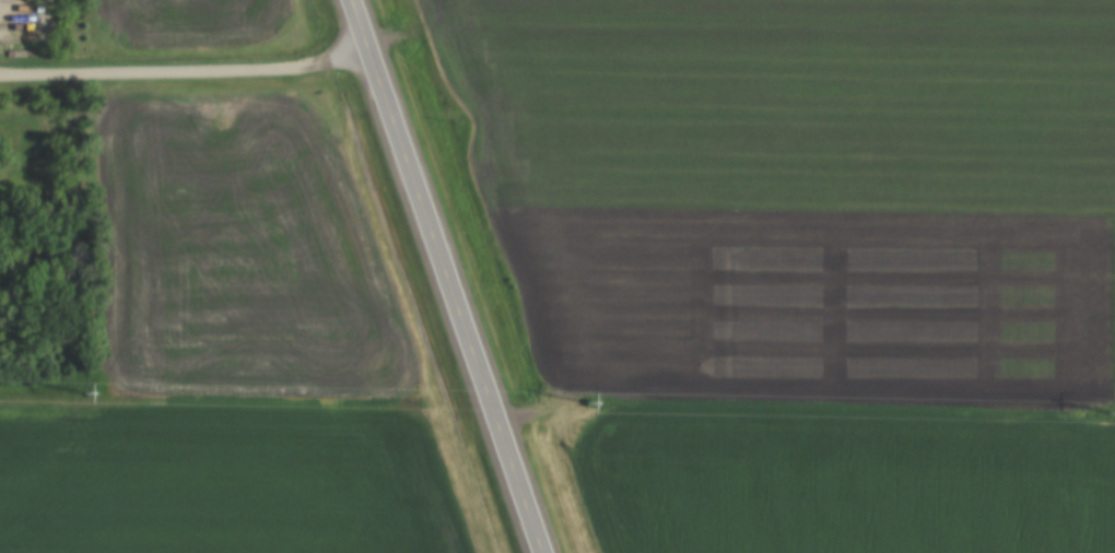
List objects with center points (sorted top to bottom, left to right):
road: (184, 71)
road: (444, 276)
power tower: (89, 390)
power tower: (587, 412)
power tower: (1107, 419)

